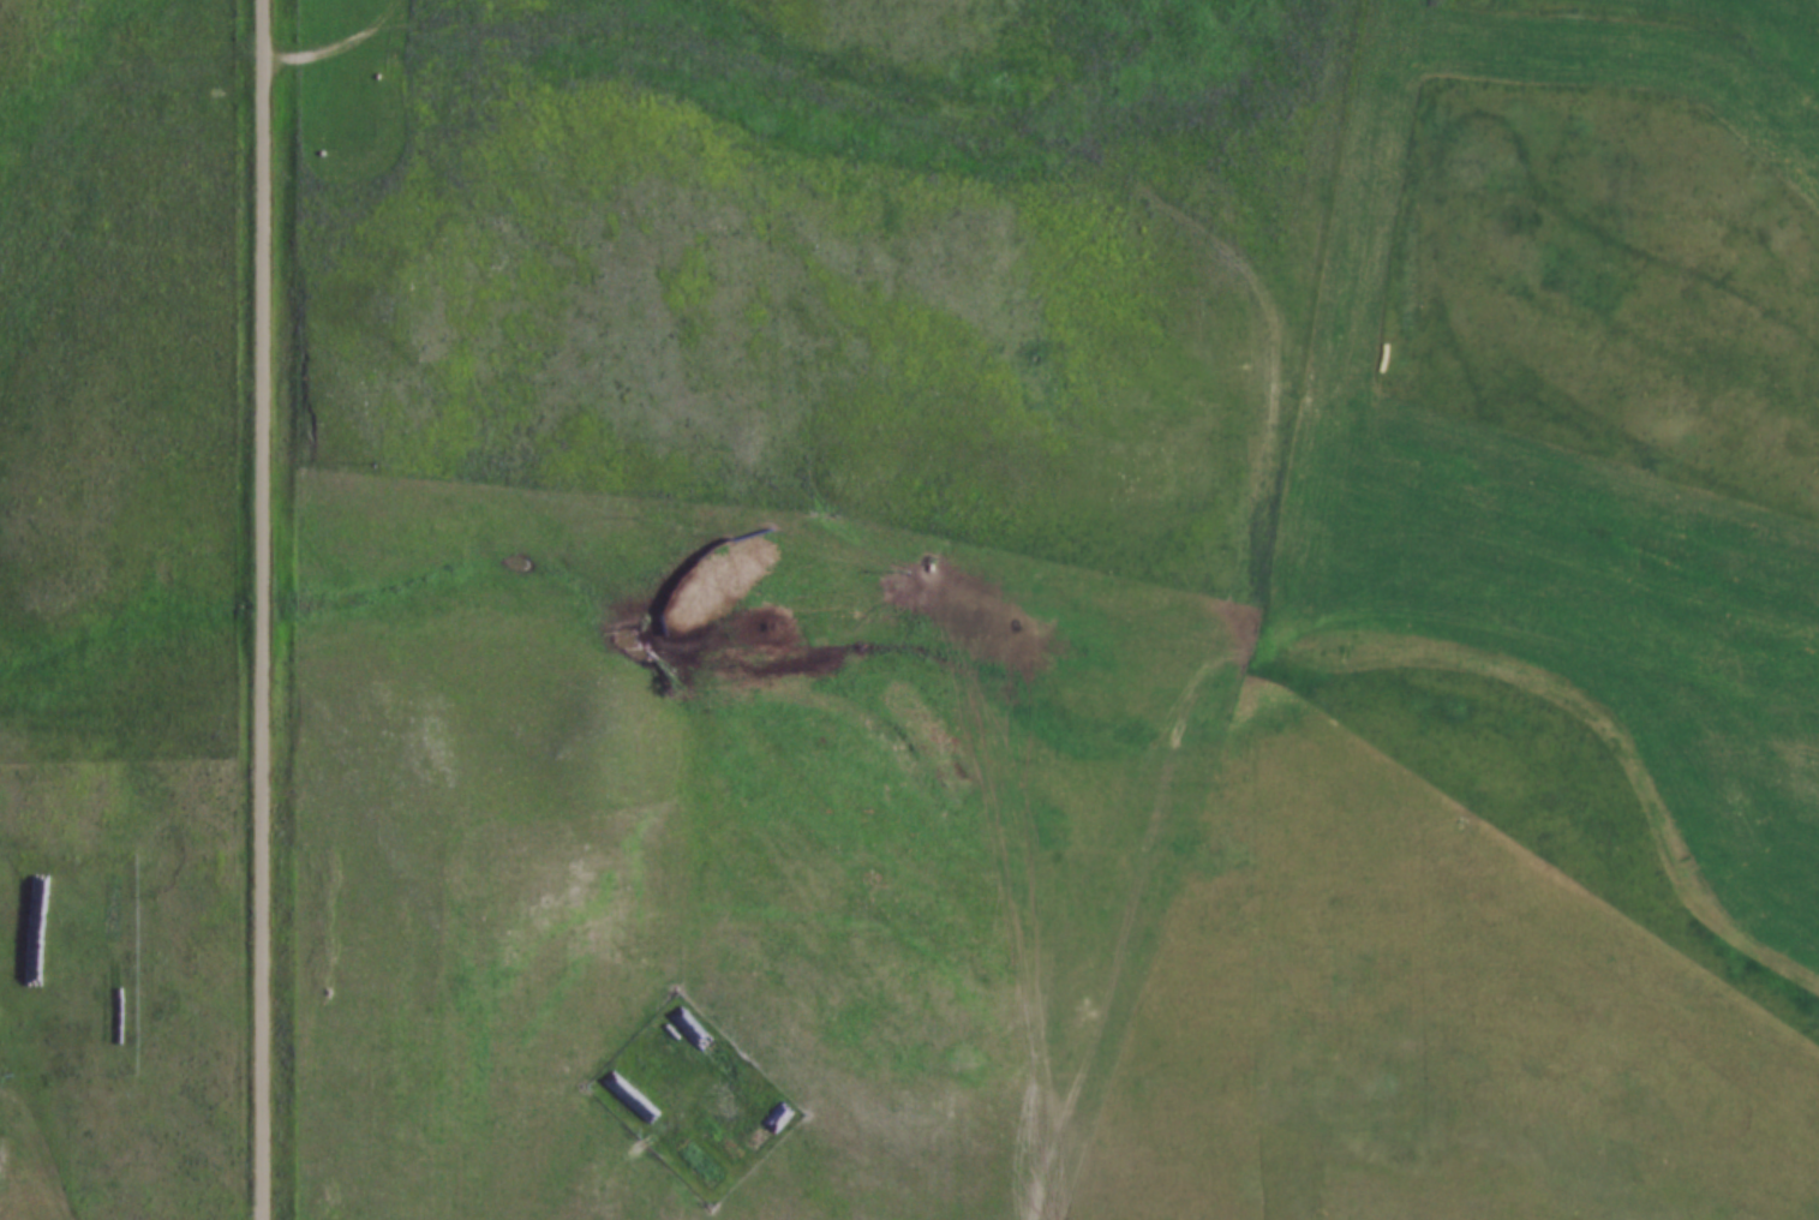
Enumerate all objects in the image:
road: (259, 609)

